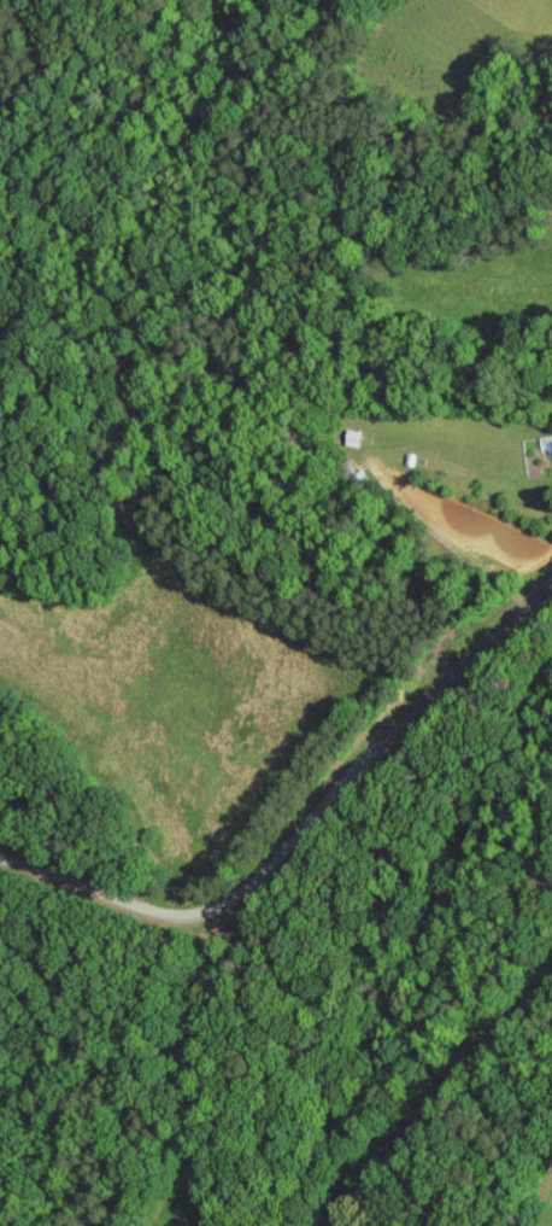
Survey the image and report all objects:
road: (304, 828)

